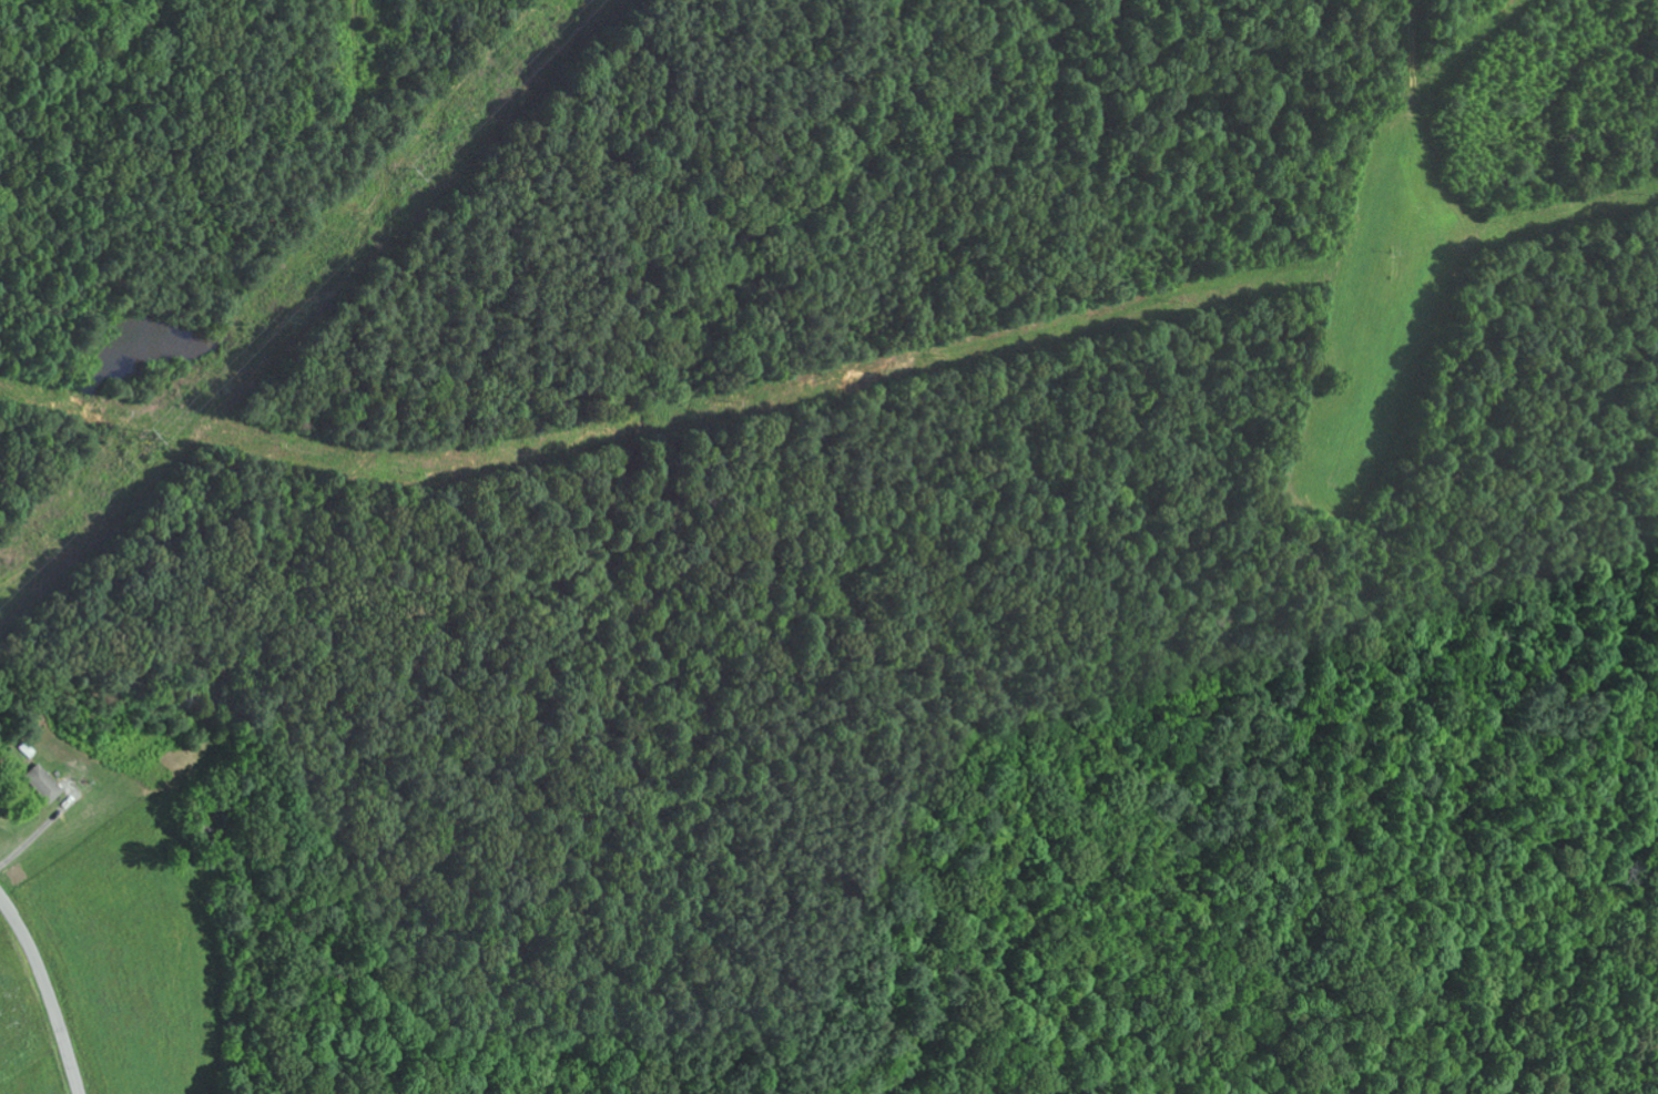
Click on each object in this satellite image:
building: (41, 785)
road: (49, 993)

